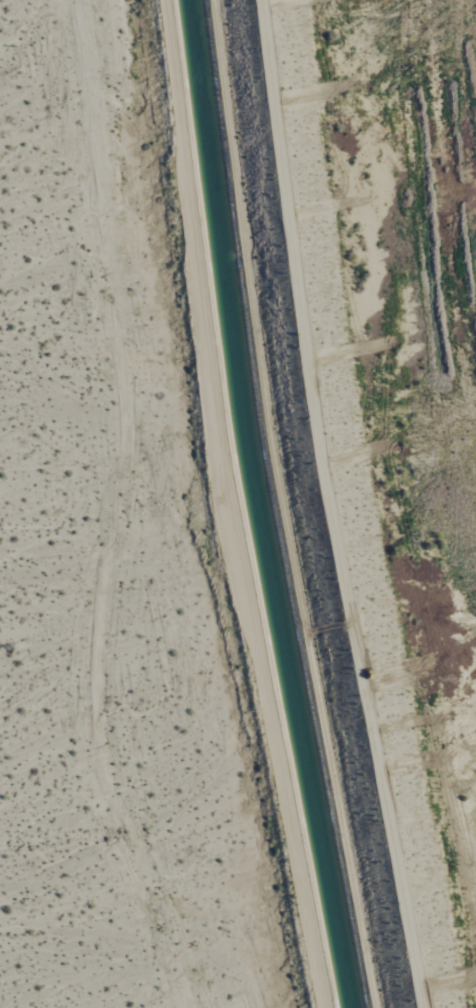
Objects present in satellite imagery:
road: (233, 506)

